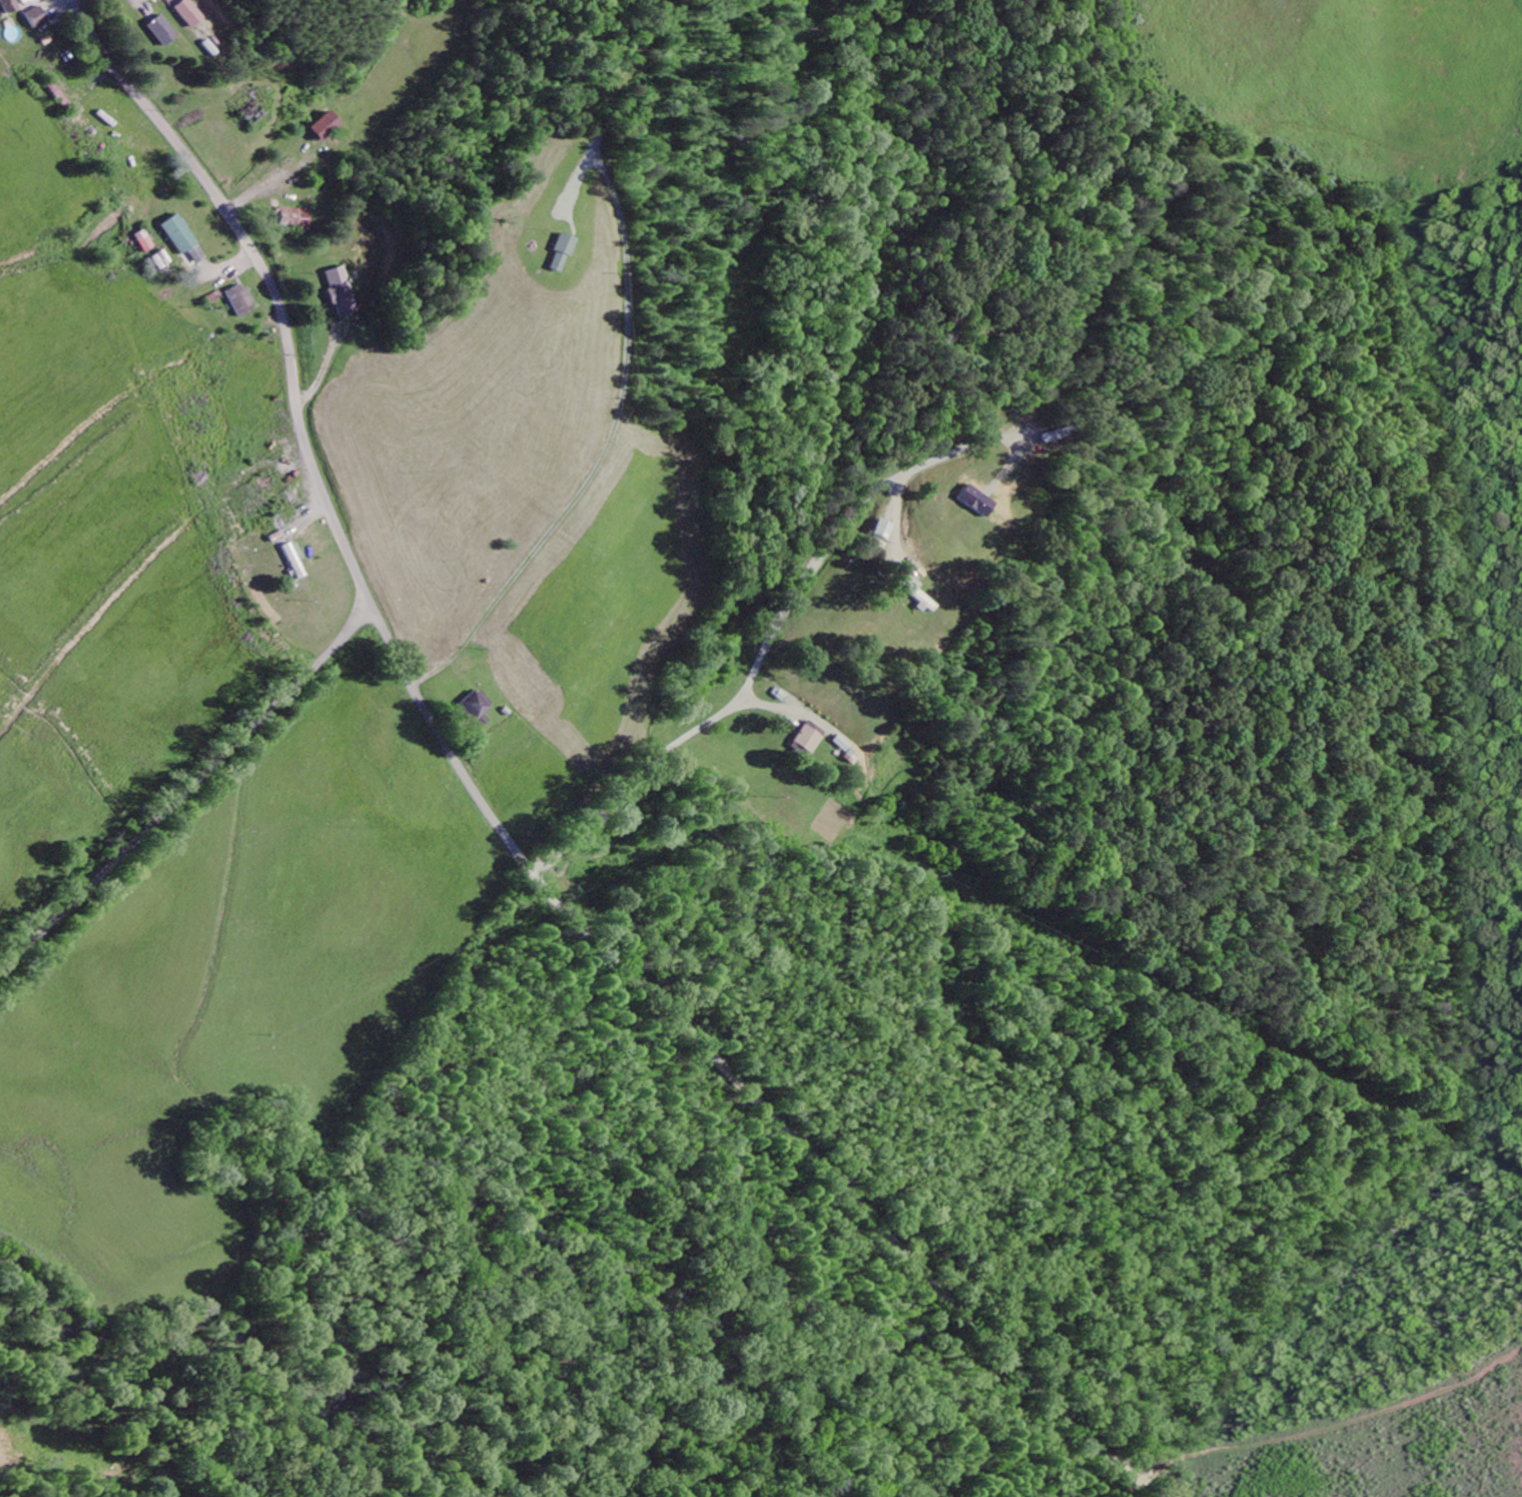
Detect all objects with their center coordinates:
building: (11, 5)
building: (194, 12)
building: (38, 16)
building: (164, 29)
building: (328, 125)
building: (295, 217)
building: (180, 233)
building: (145, 240)
building: (561, 252)
building: (163, 259)
building: (343, 290)
building: (243, 299)
building: (978, 500)
road: (951, 503)
building: (885, 528)
building: (474, 705)
building: (809, 736)
building: (842, 742)
road: (187, 789)
road: (500, 828)

